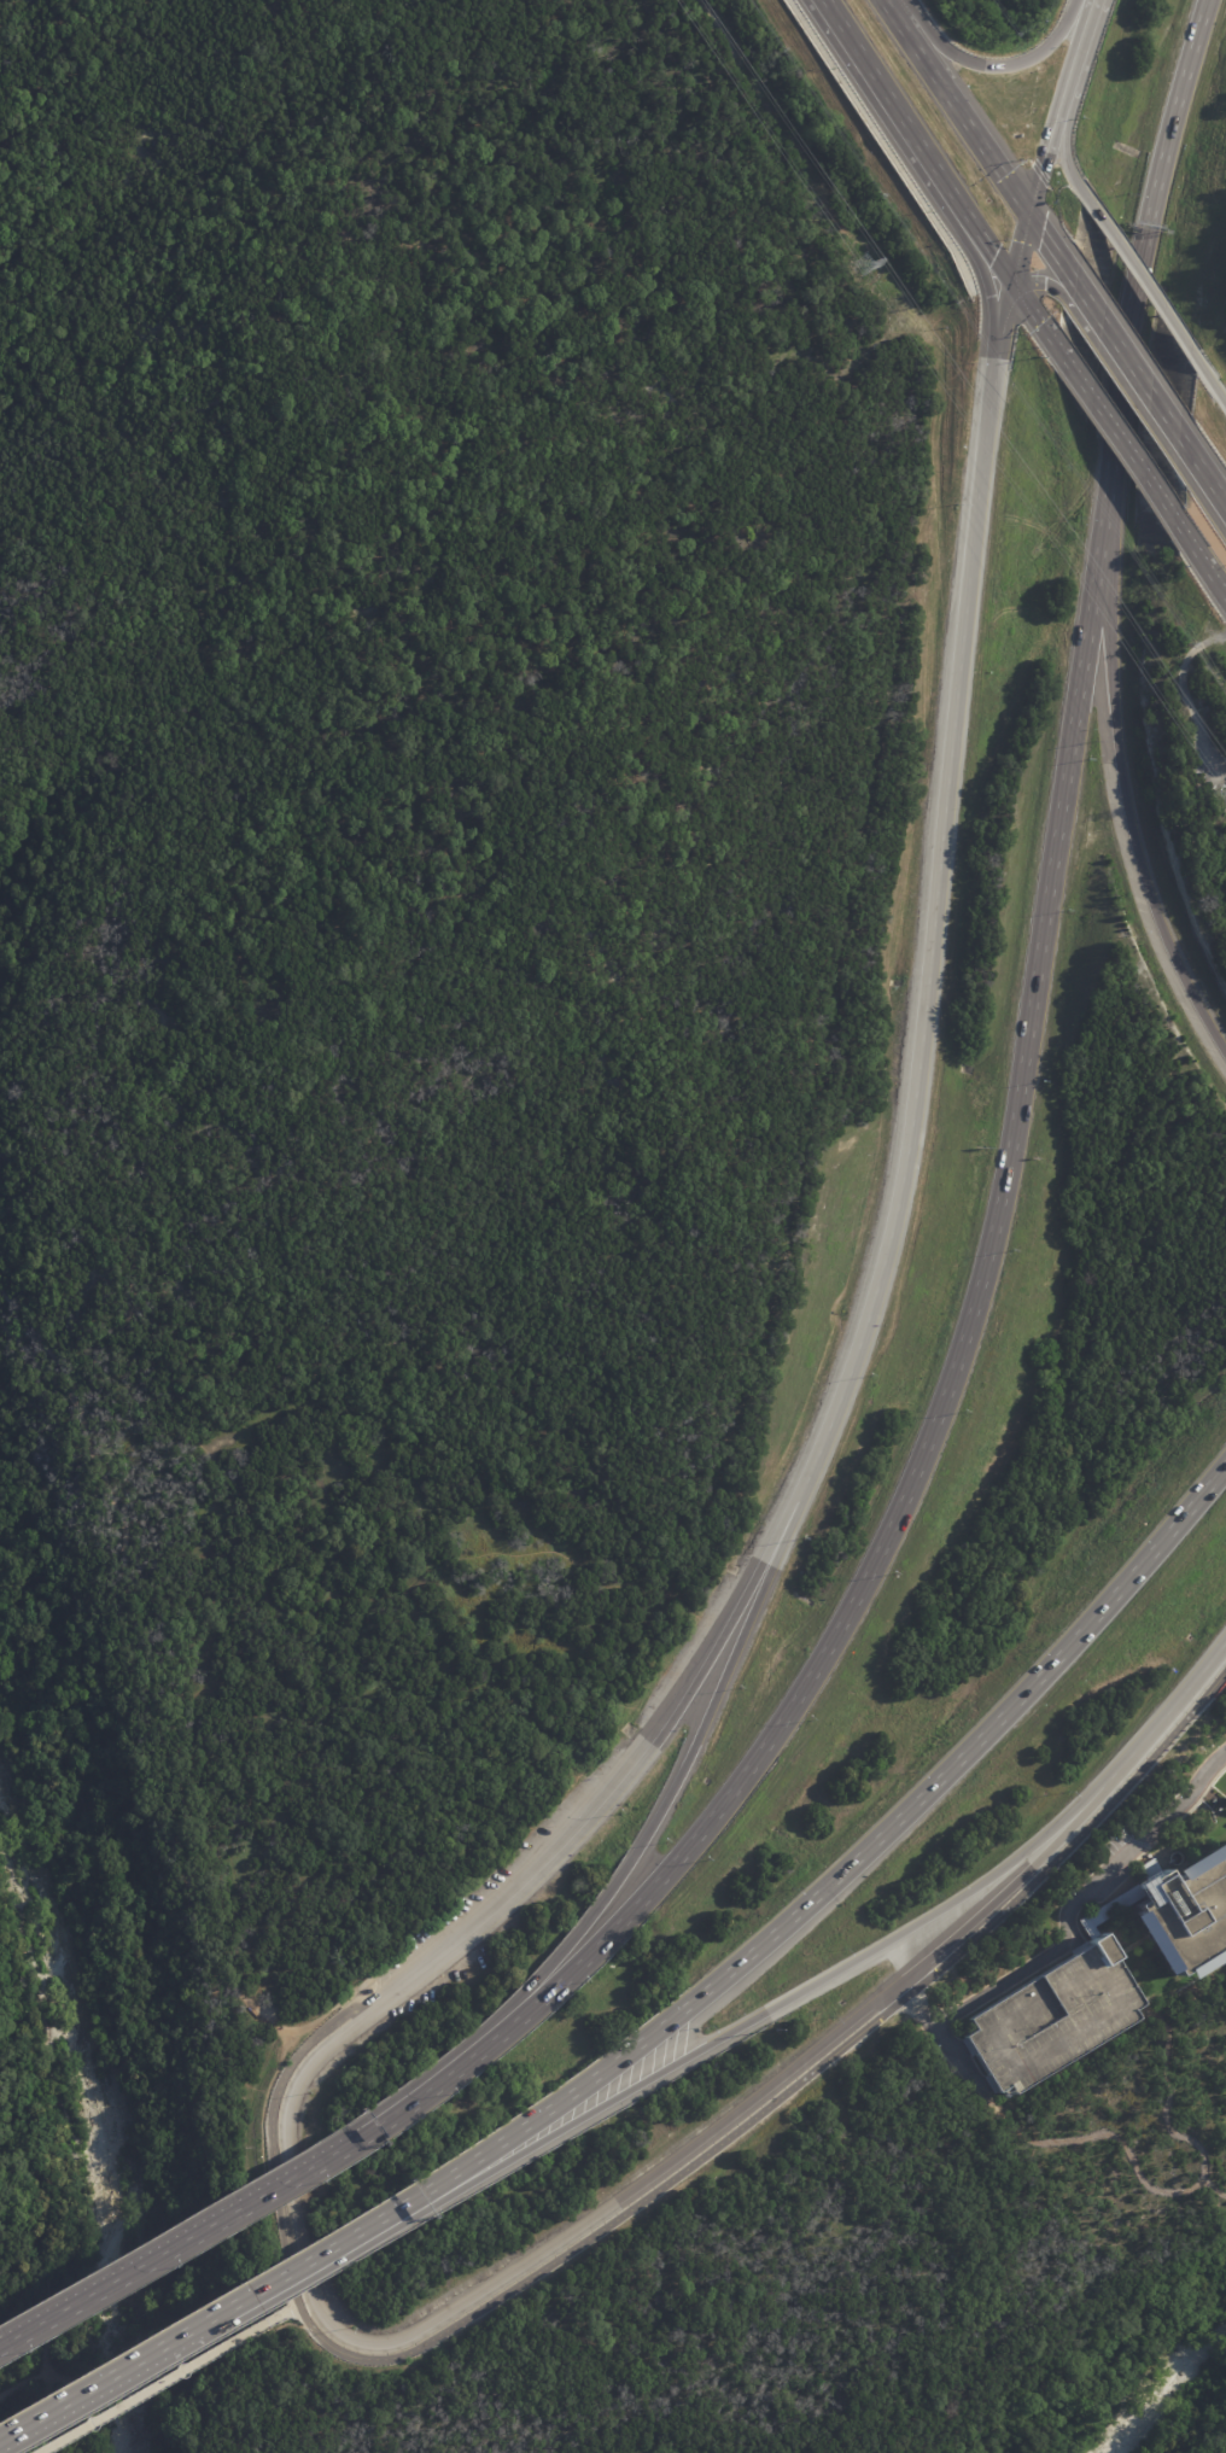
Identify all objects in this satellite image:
road: (898, 13)
road: (852, 52)
road: (1006, 65)
road: (1073, 65)
road: (1184, 84)
road: (969, 118)
road: (1064, 160)
road: (929, 163)
road: (1043, 170)
traffic signals: (1031, 210)
road: (1052, 244)
power tower: (869, 267)
road: (1139, 276)
traffic signals: (1014, 285)
road: (991, 287)
road: (1017, 290)
road: (1127, 354)
road: (1126, 356)
road: (1212, 384)
road: (1119, 440)
road: (1203, 462)
road: (1199, 557)
power tower: (1224, 793)
road: (1125, 807)
road: (934, 895)
road: (961, 1357)
road: (146, 1675)
park: (415, 1747)
parking lot: (571, 1798)
road: (661, 1810)
road: (592, 1811)
park: (91, 1851)
road: (852, 1856)
road: (107, 1904)
building: (1186, 1910)
road: (1068, 1914)
road: (772, 2007)
building: (1049, 2019)
parking garage: (1049, 2019)
road: (326, 2022)
road: (442, 2075)
road: (795, 2085)
road: (771, 2092)
road: (284, 2101)
road: (273, 2180)
road: (45, 2190)
road: (93, 2232)
road: (191, 2235)
road: (310, 2260)
road: (159, 2328)
road: (232, 2367)
road: (164, 2378)
road: (98, 2384)
road: (23, 2390)

